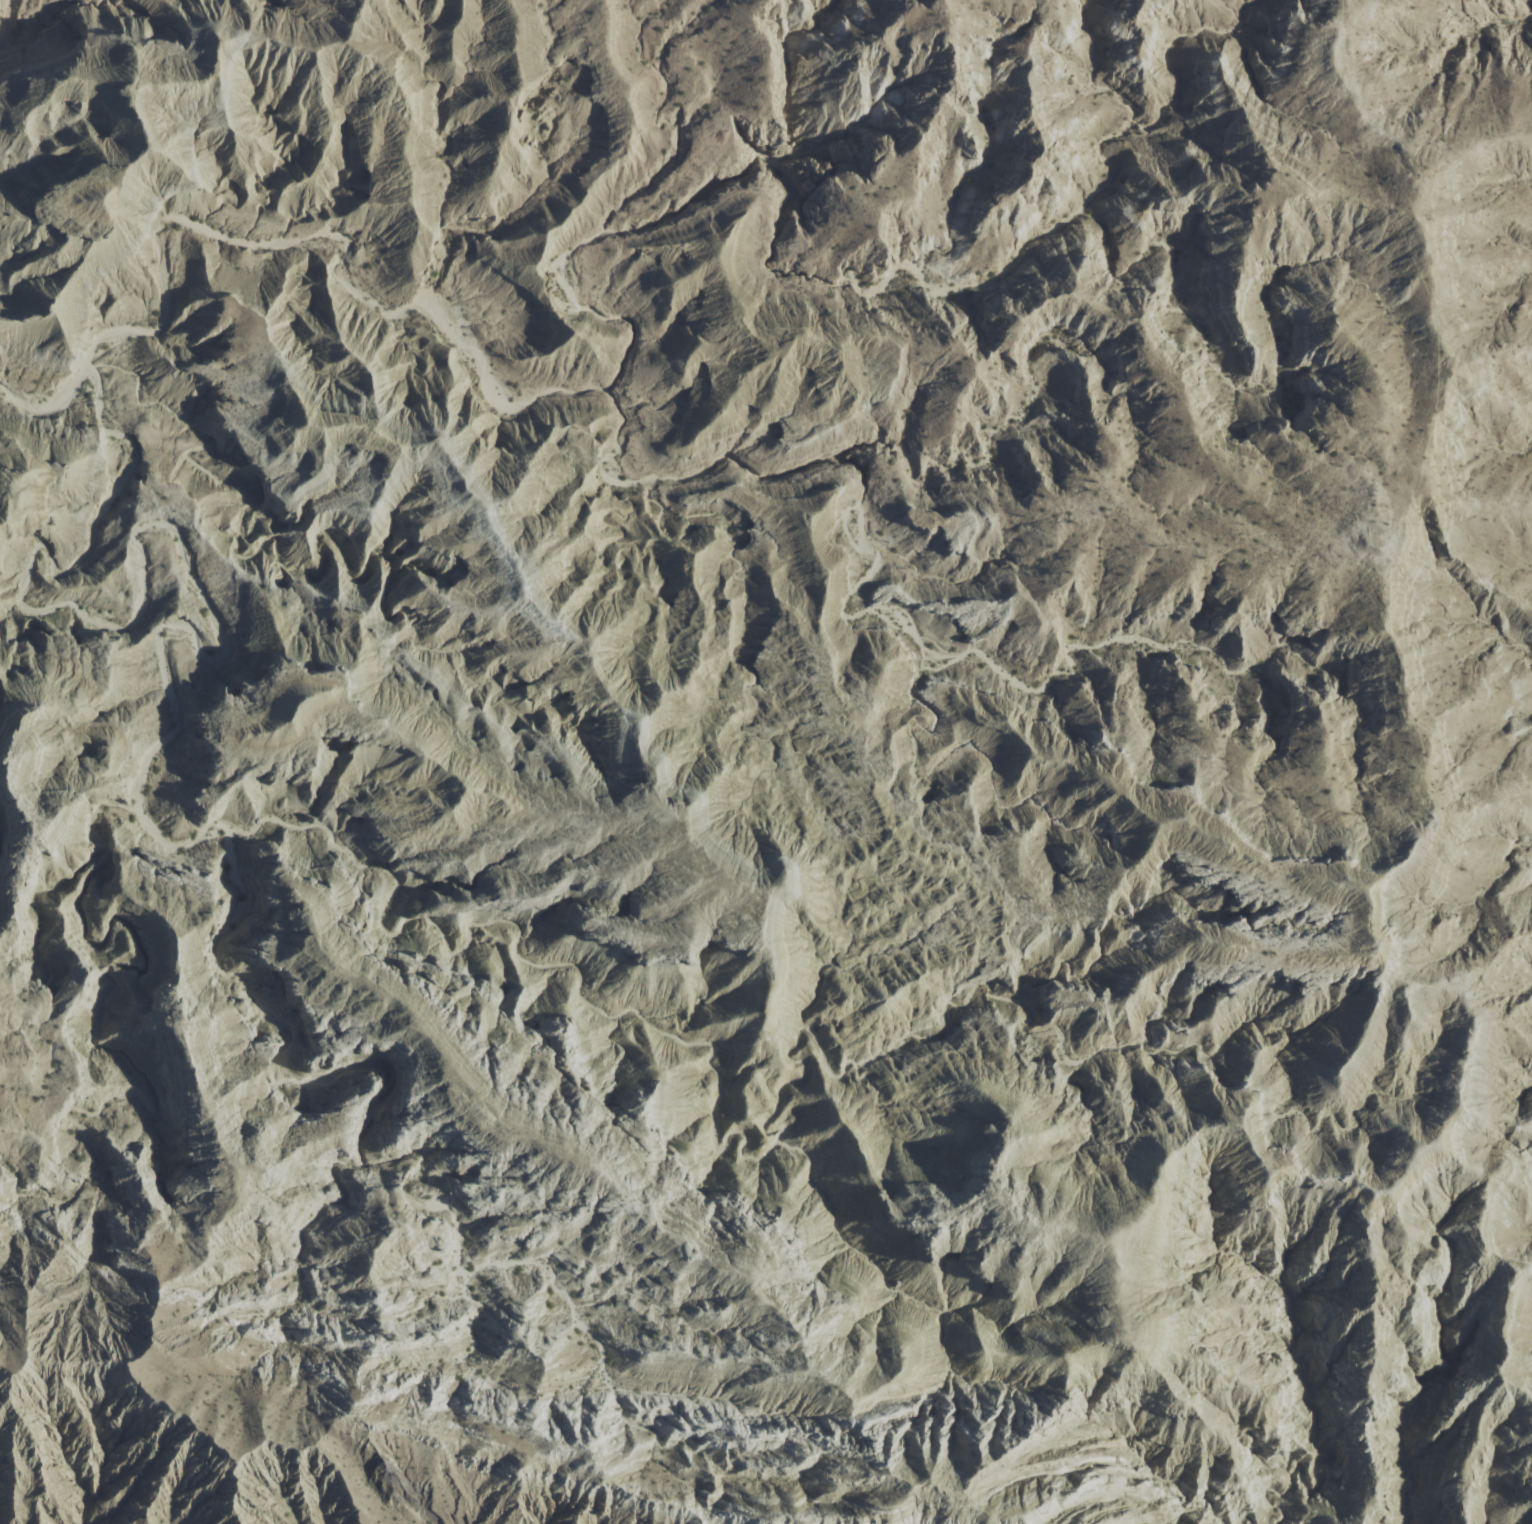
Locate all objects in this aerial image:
road: (7, 22)
road: (1427, 259)
road: (1393, 632)
road: (1451, 706)

